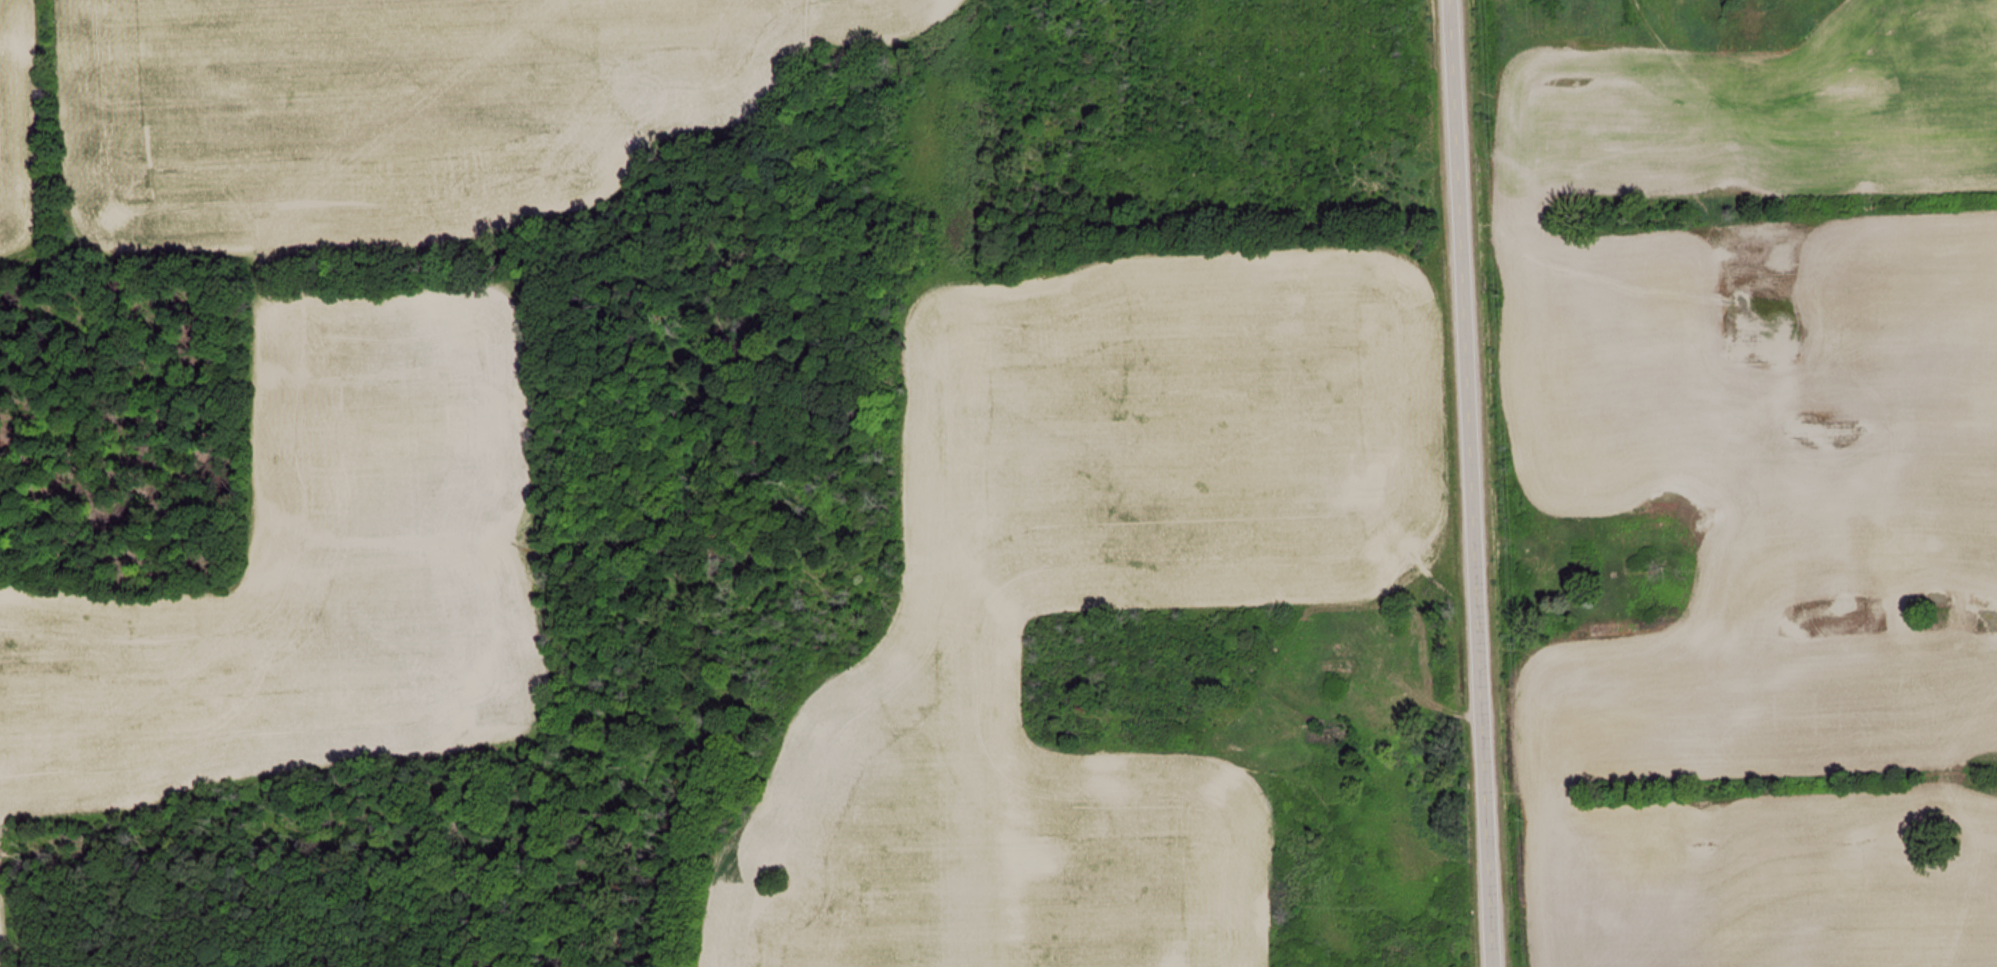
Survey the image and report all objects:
road: (1470, 483)

